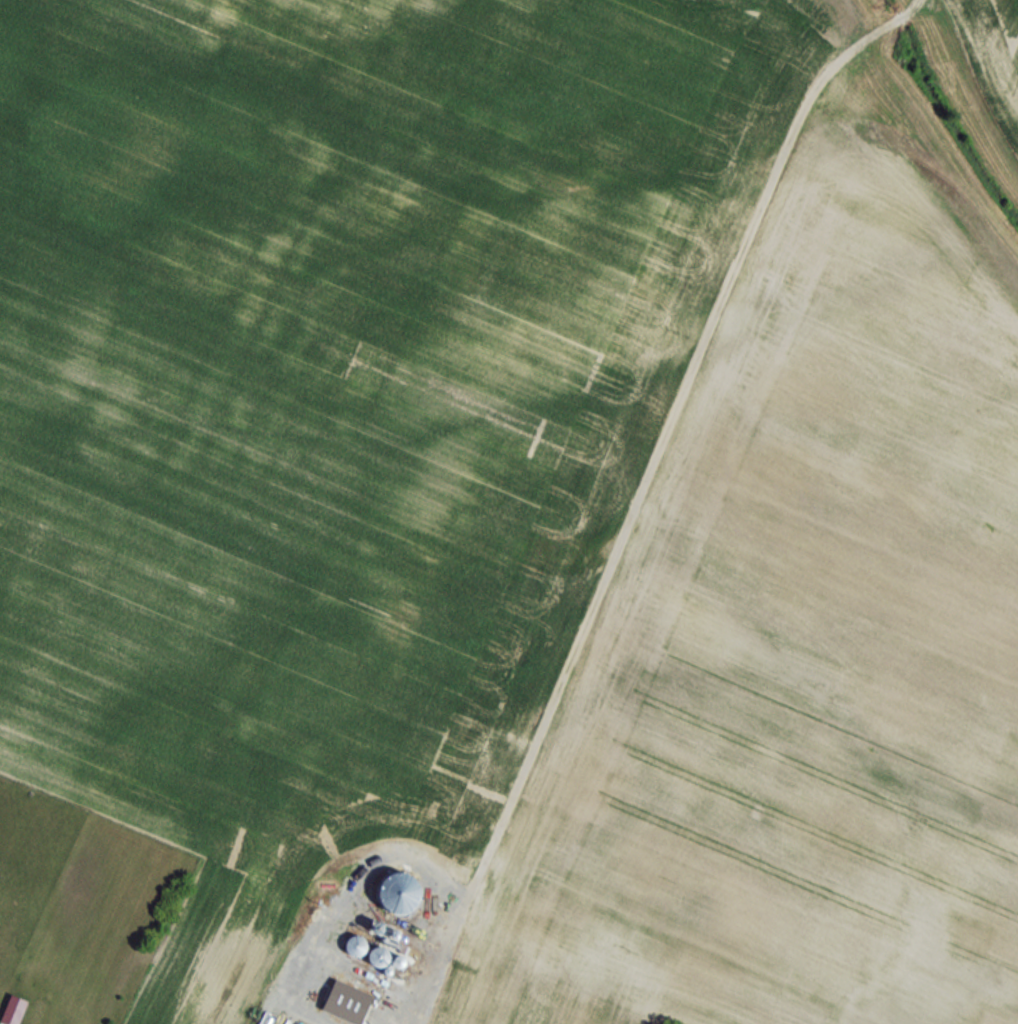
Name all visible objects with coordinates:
crop: (1003, 24)
crop: (511, 508)

